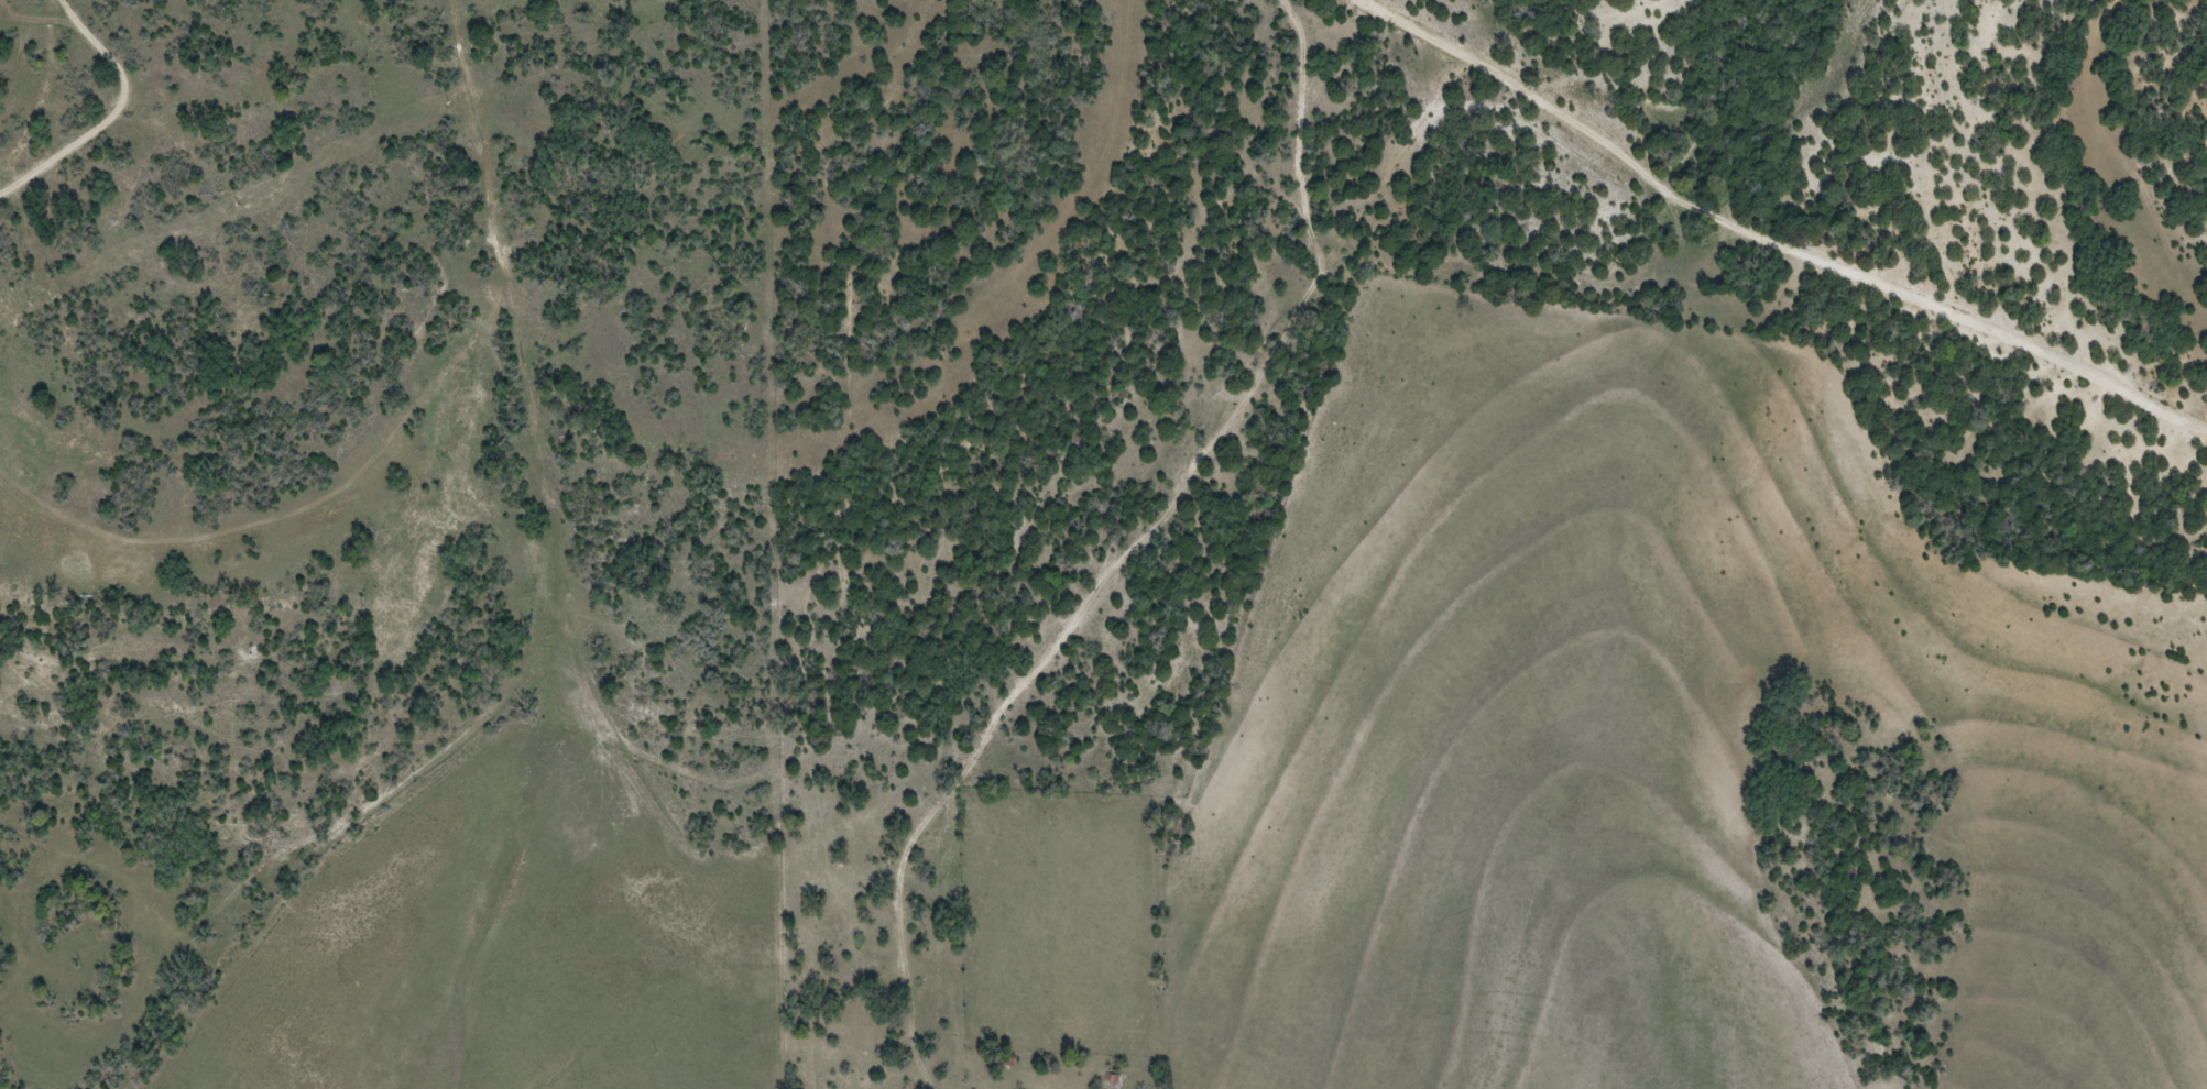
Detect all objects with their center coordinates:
road: (1394, 18)
road: (1805, 252)
road: (1013, 525)
building: (1007, 1060)
building: (1114, 1081)

